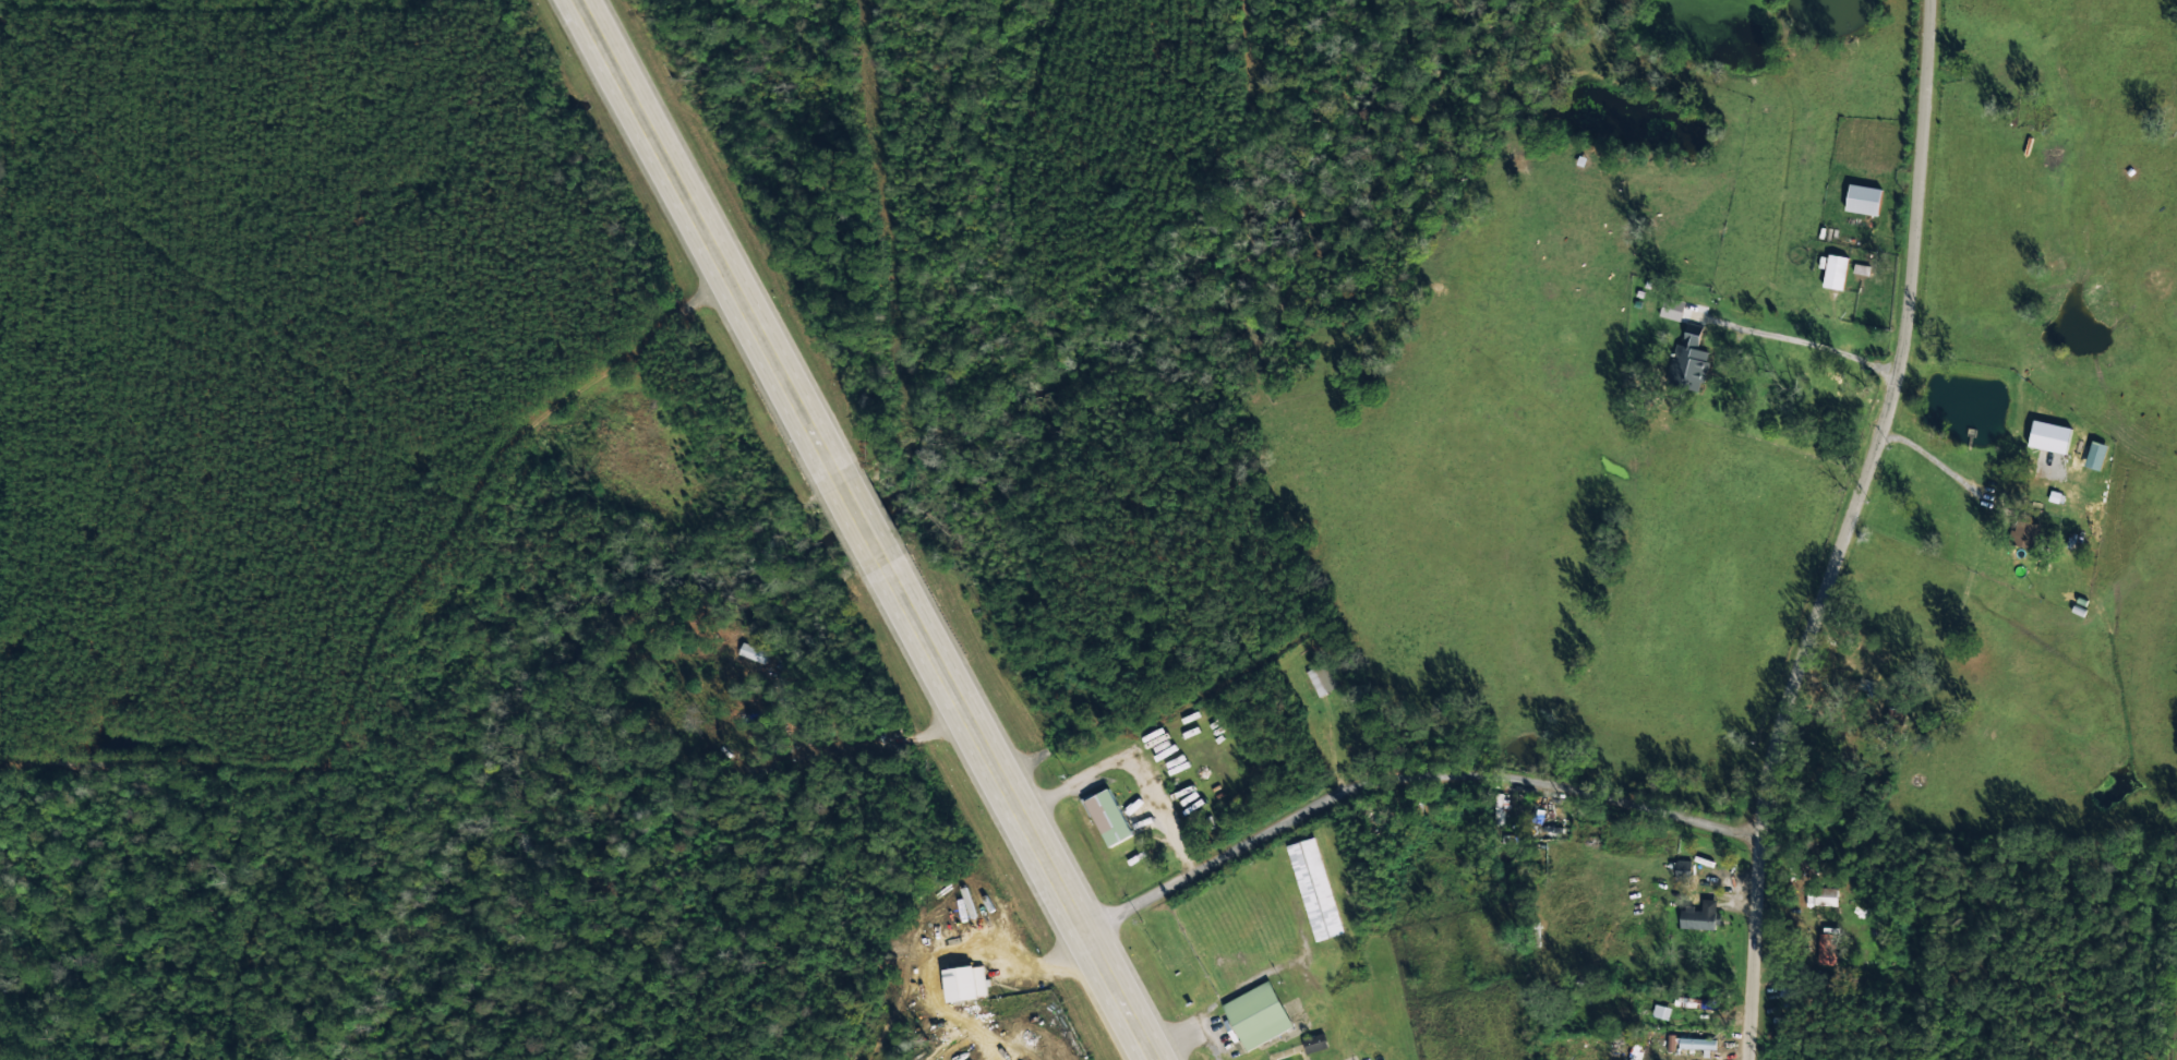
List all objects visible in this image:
road: (662, 158)
building: (1863, 198)
building: (1835, 270)
building: (1672, 308)
building: (1689, 356)
road: (793, 402)
building: (2049, 435)
building: (2094, 455)
road: (857, 521)
road: (1840, 530)
building: (753, 651)
building: (1322, 677)
road: (1130, 759)
road: (1405, 781)
road: (1012, 807)
building: (1108, 815)
building: (1682, 865)
building: (1313, 888)
building: (1825, 894)
building: (1699, 915)
building: (964, 980)
building: (1660, 1010)
building: (1256, 1014)
building: (1314, 1041)
building: (1696, 1041)

